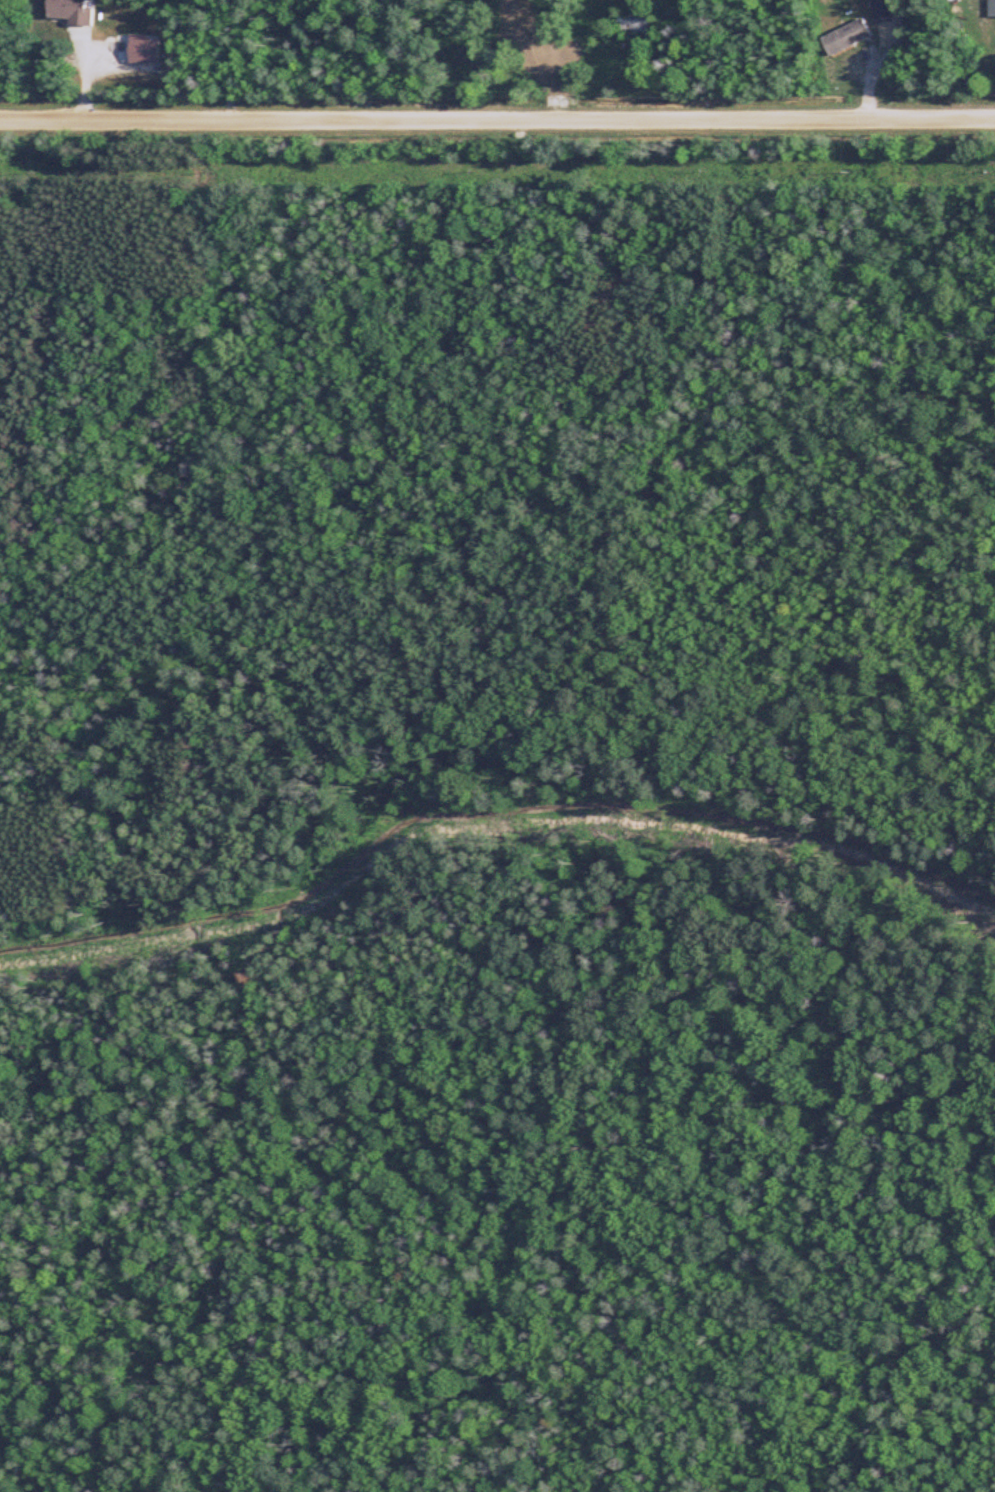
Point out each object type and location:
building: (990, 8)
building: (67, 10)
building: (629, 23)
building: (843, 37)
road: (497, 123)

